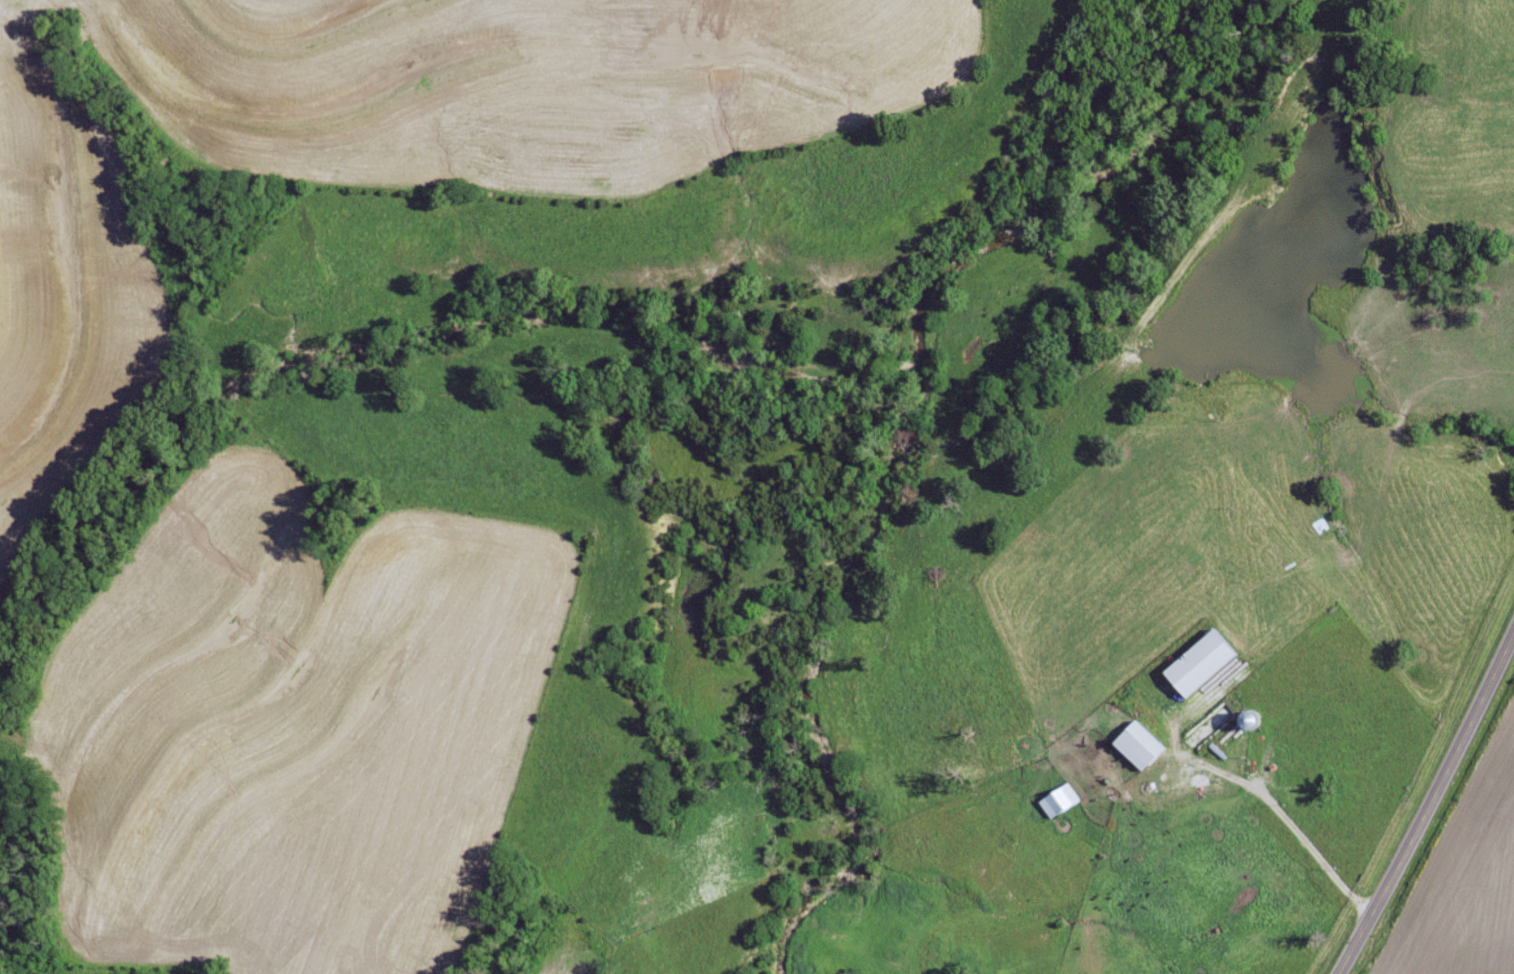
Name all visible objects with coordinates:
building: (1139, 749)
road: (1428, 801)
road: (1267, 803)
building: (1064, 804)

